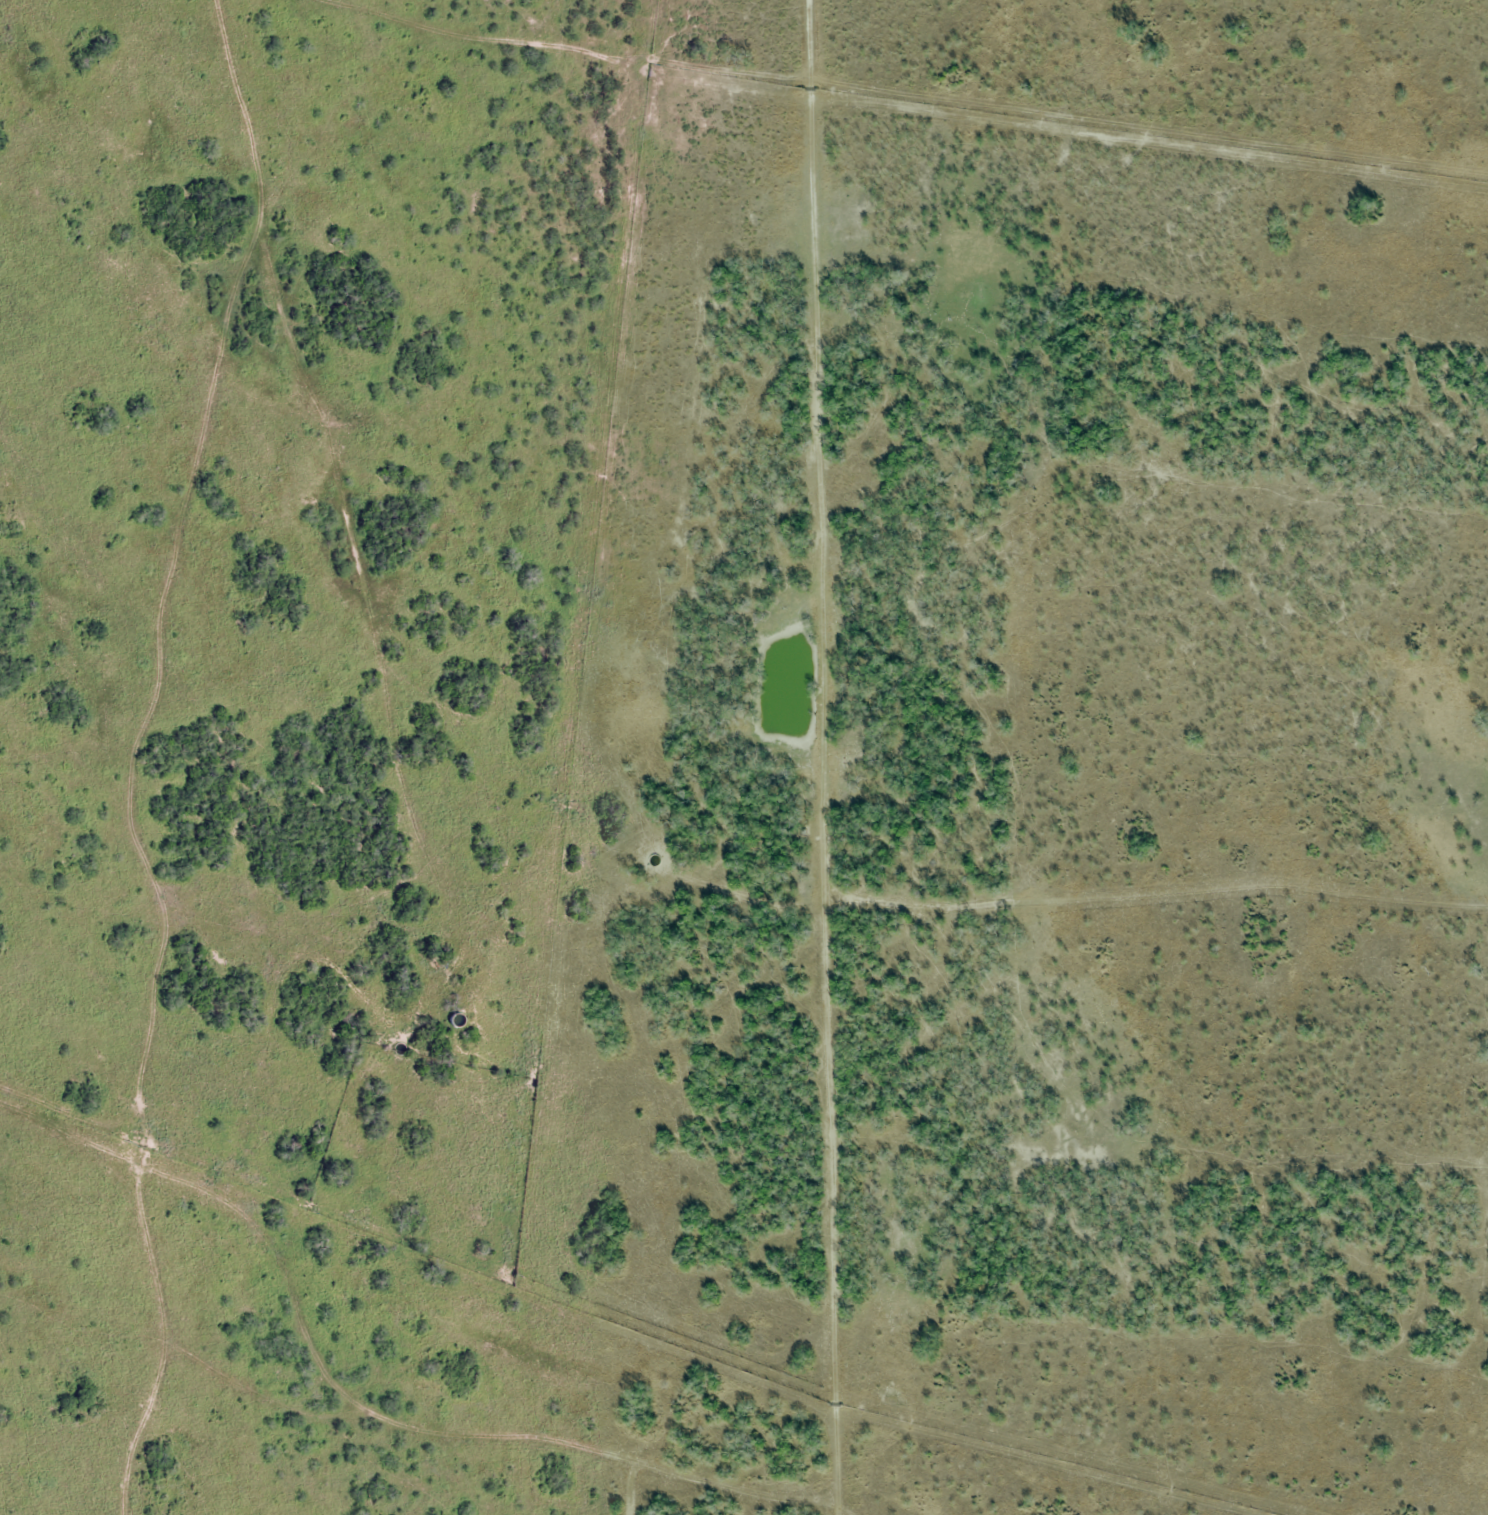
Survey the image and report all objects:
road: (815, 757)

